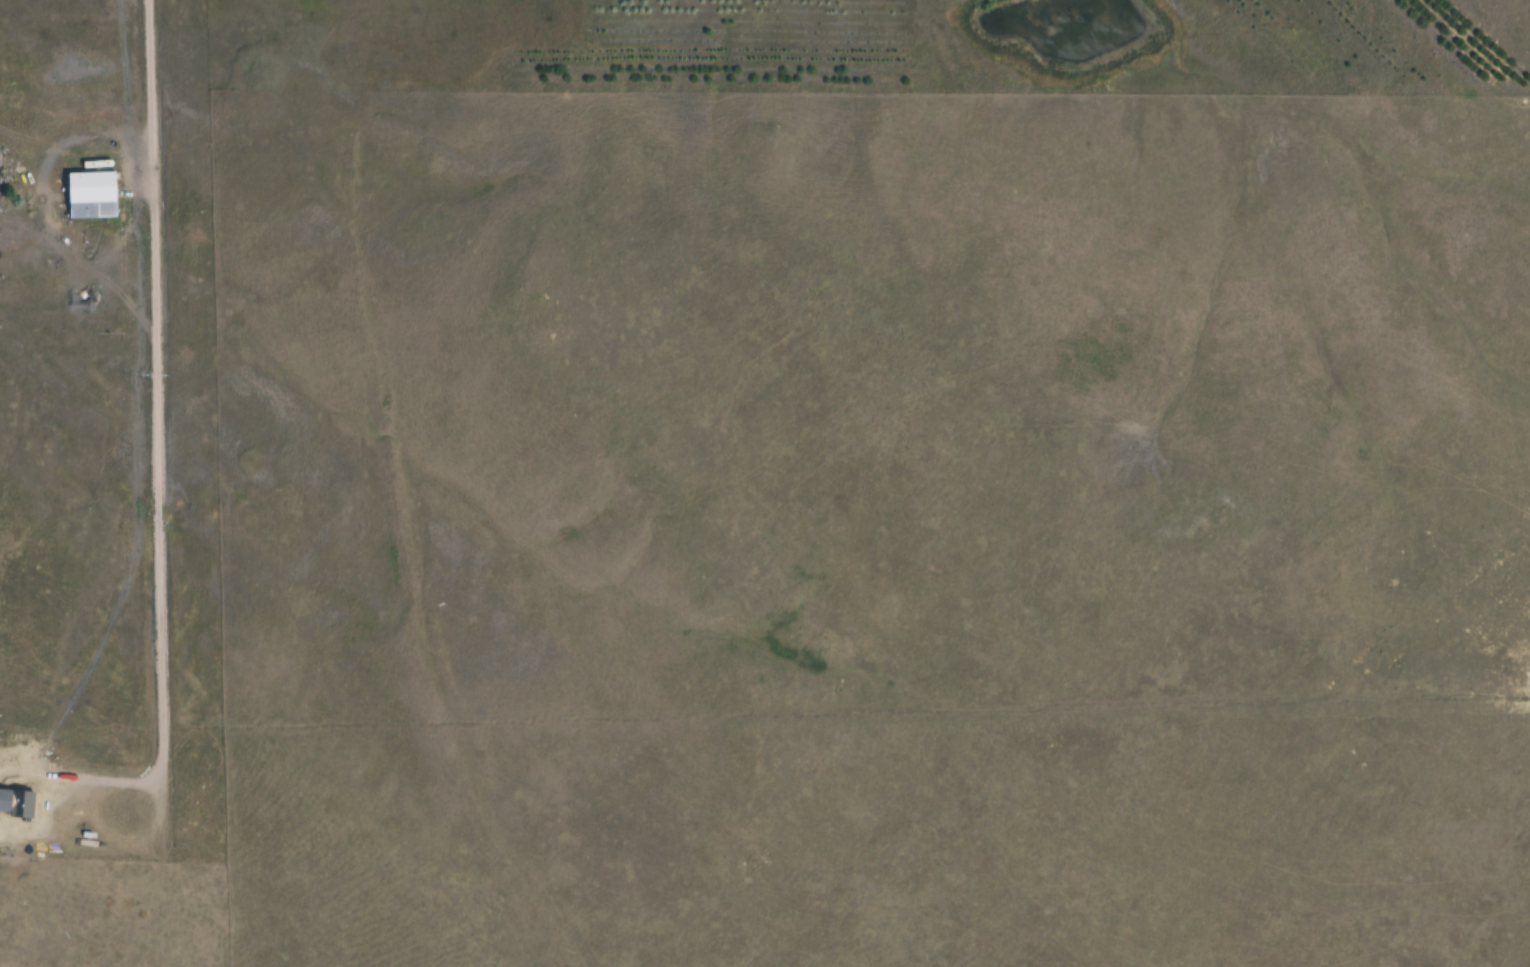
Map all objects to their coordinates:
building: (90, 195)
building: (6, 765)

